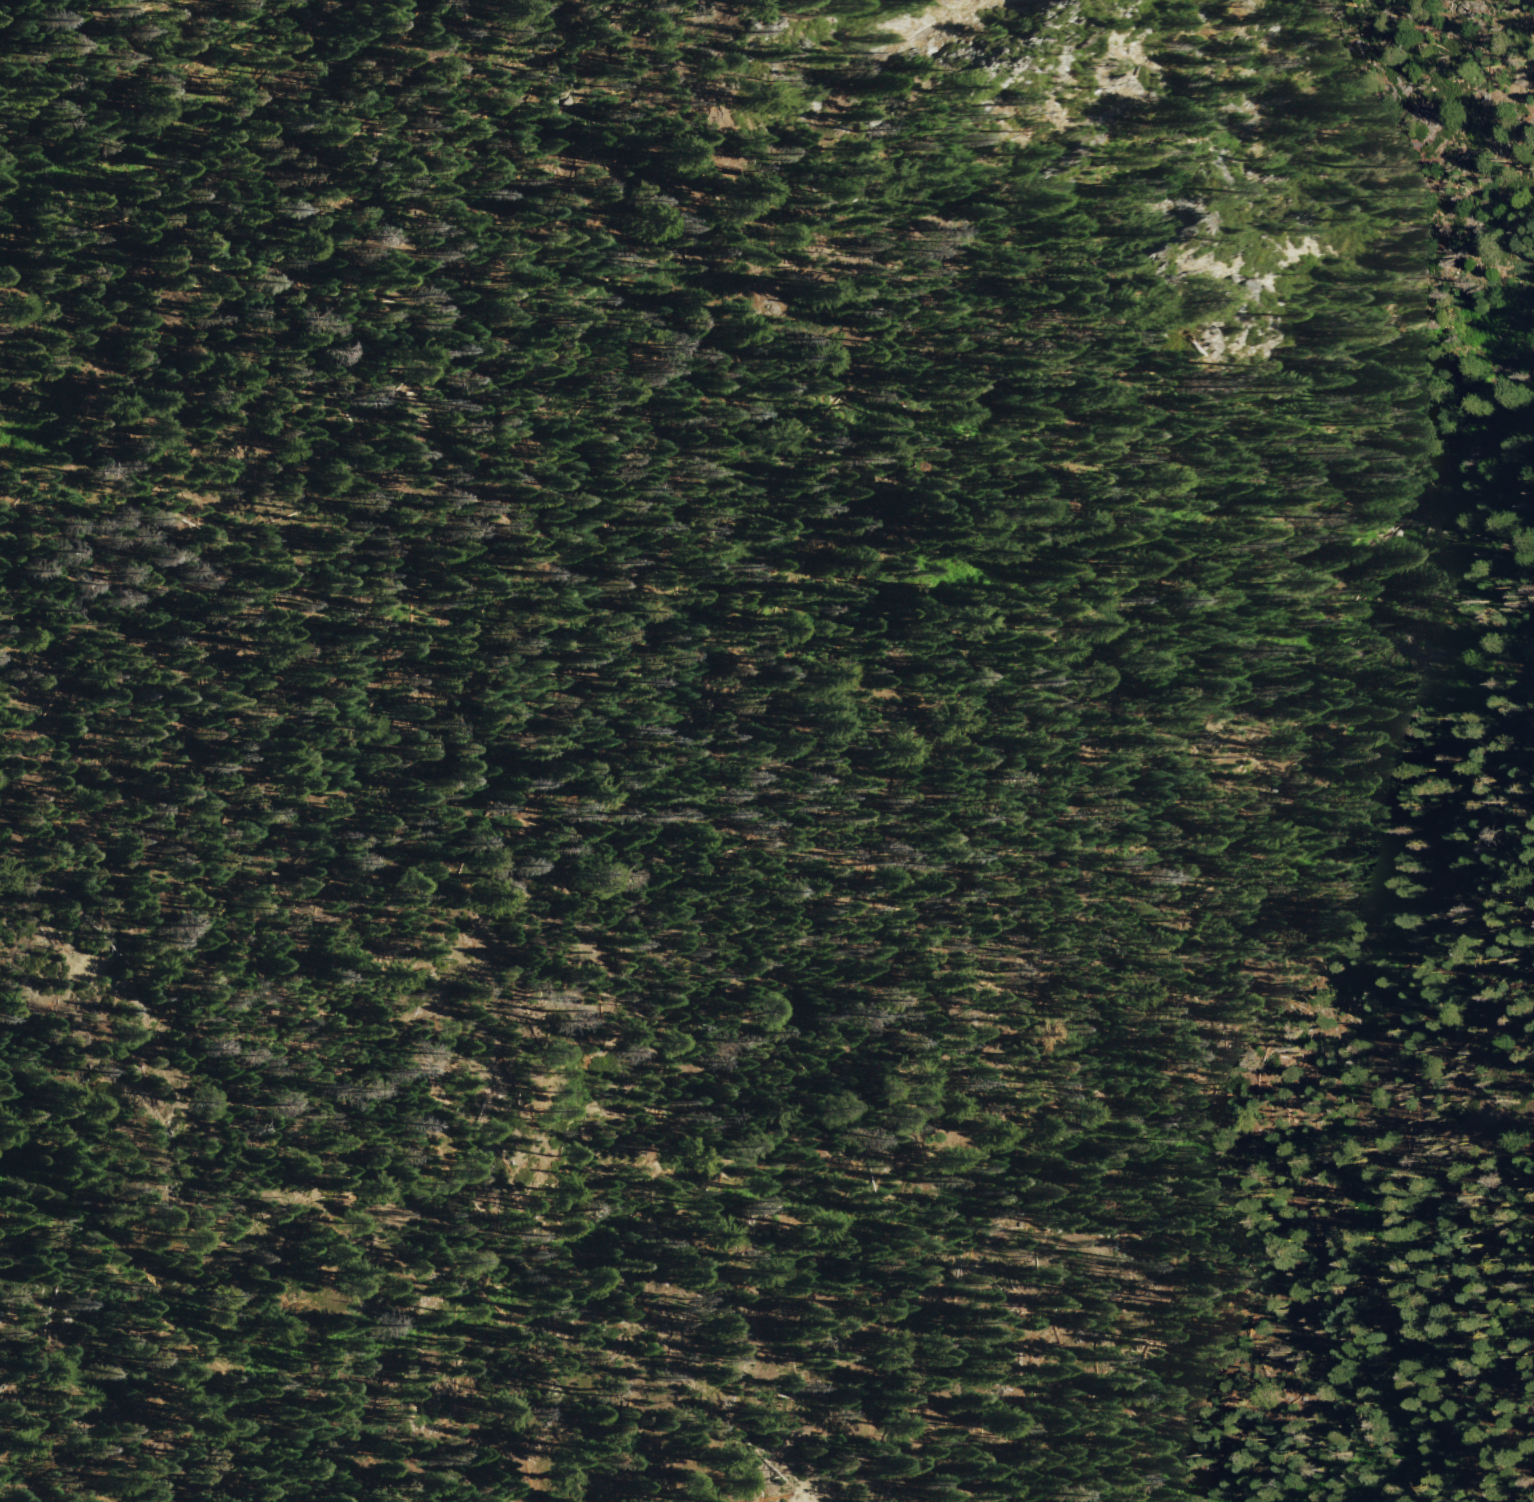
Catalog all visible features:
road: (197, 1345)

